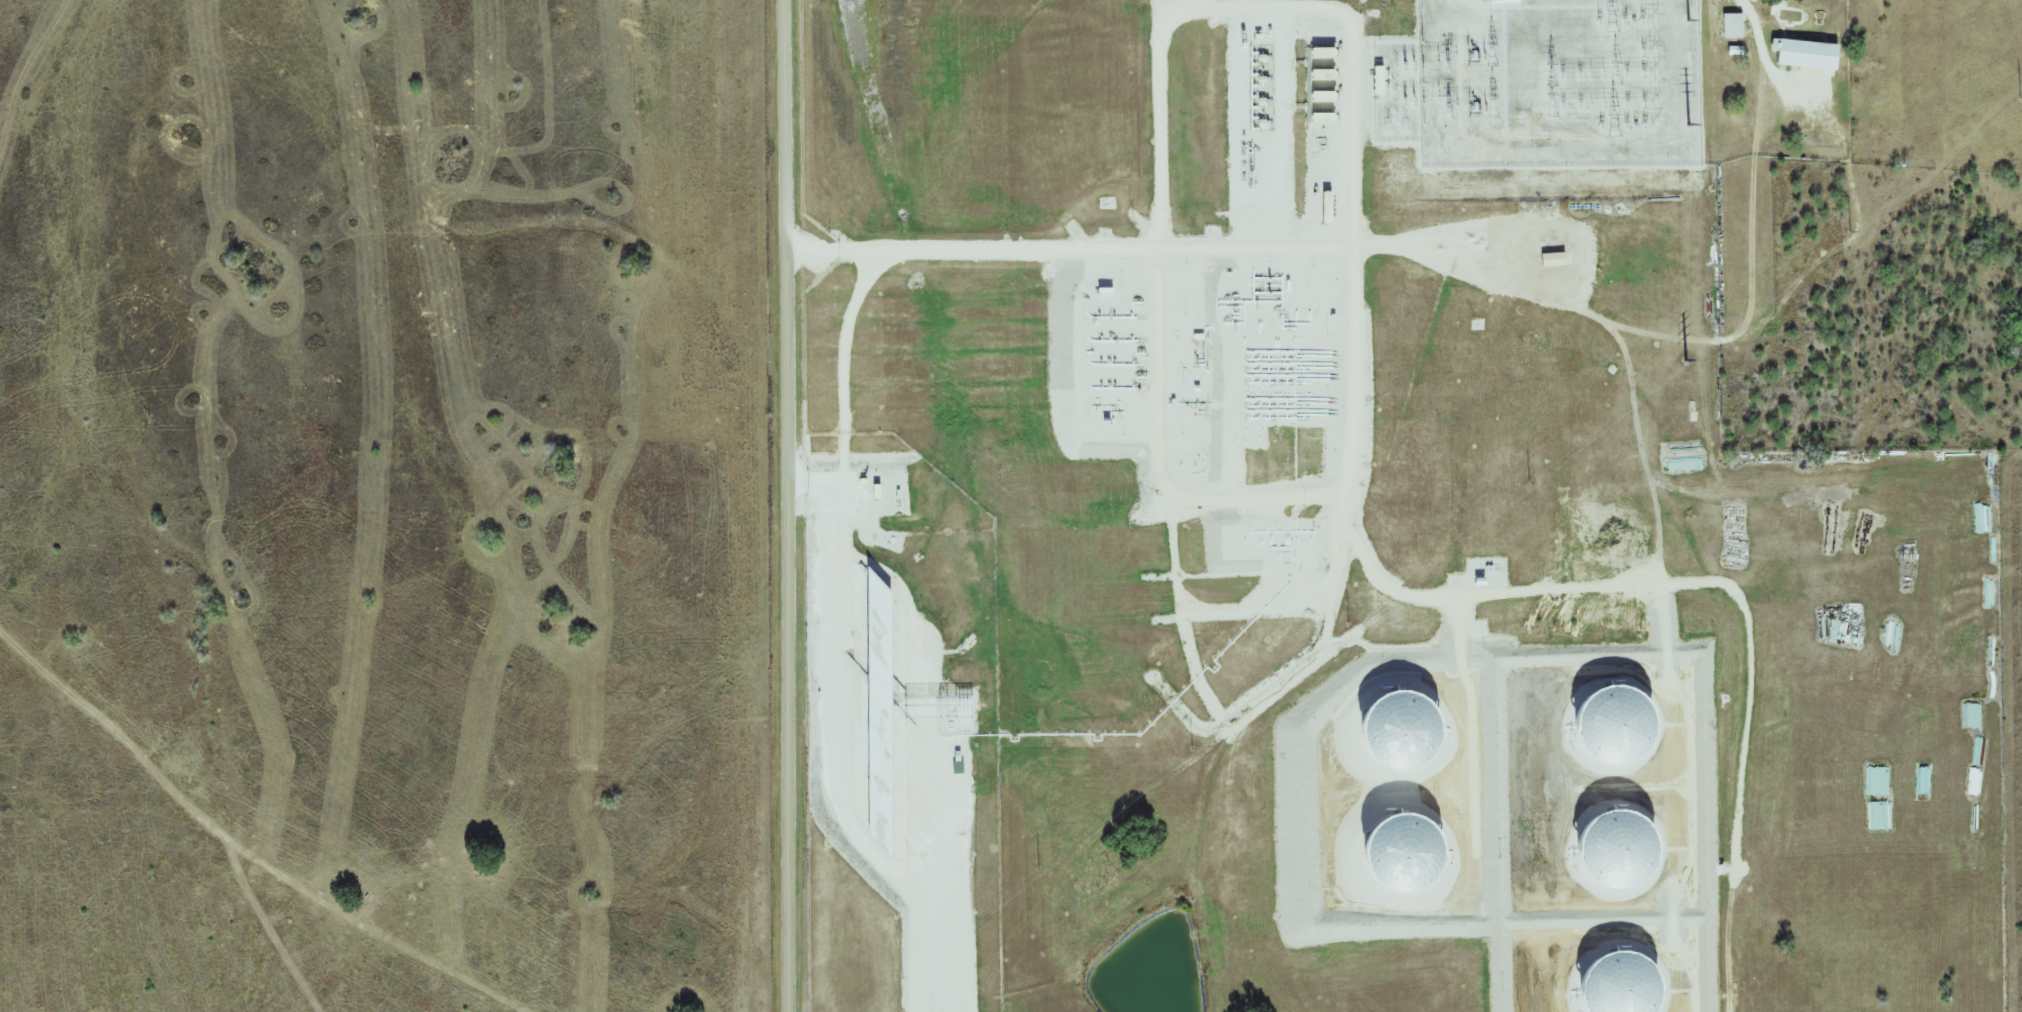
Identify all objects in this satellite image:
building: (1505, 1)
power tower: (1686, 20)
building: (1734, 25)
building: (1807, 54)
building: (1380, 80)
power substation: (1542, 83)
building: (1324, 87)
power tower: (1686, 124)
road: (794, 505)
building: (1612, 726)
silo: (1612, 726)
building: (1399, 733)
silo: (1399, 733)
building: (1614, 848)
silo: (1614, 848)
building: (1404, 851)
silo: (1404, 851)
building: (1619, 986)
silo: (1619, 986)

